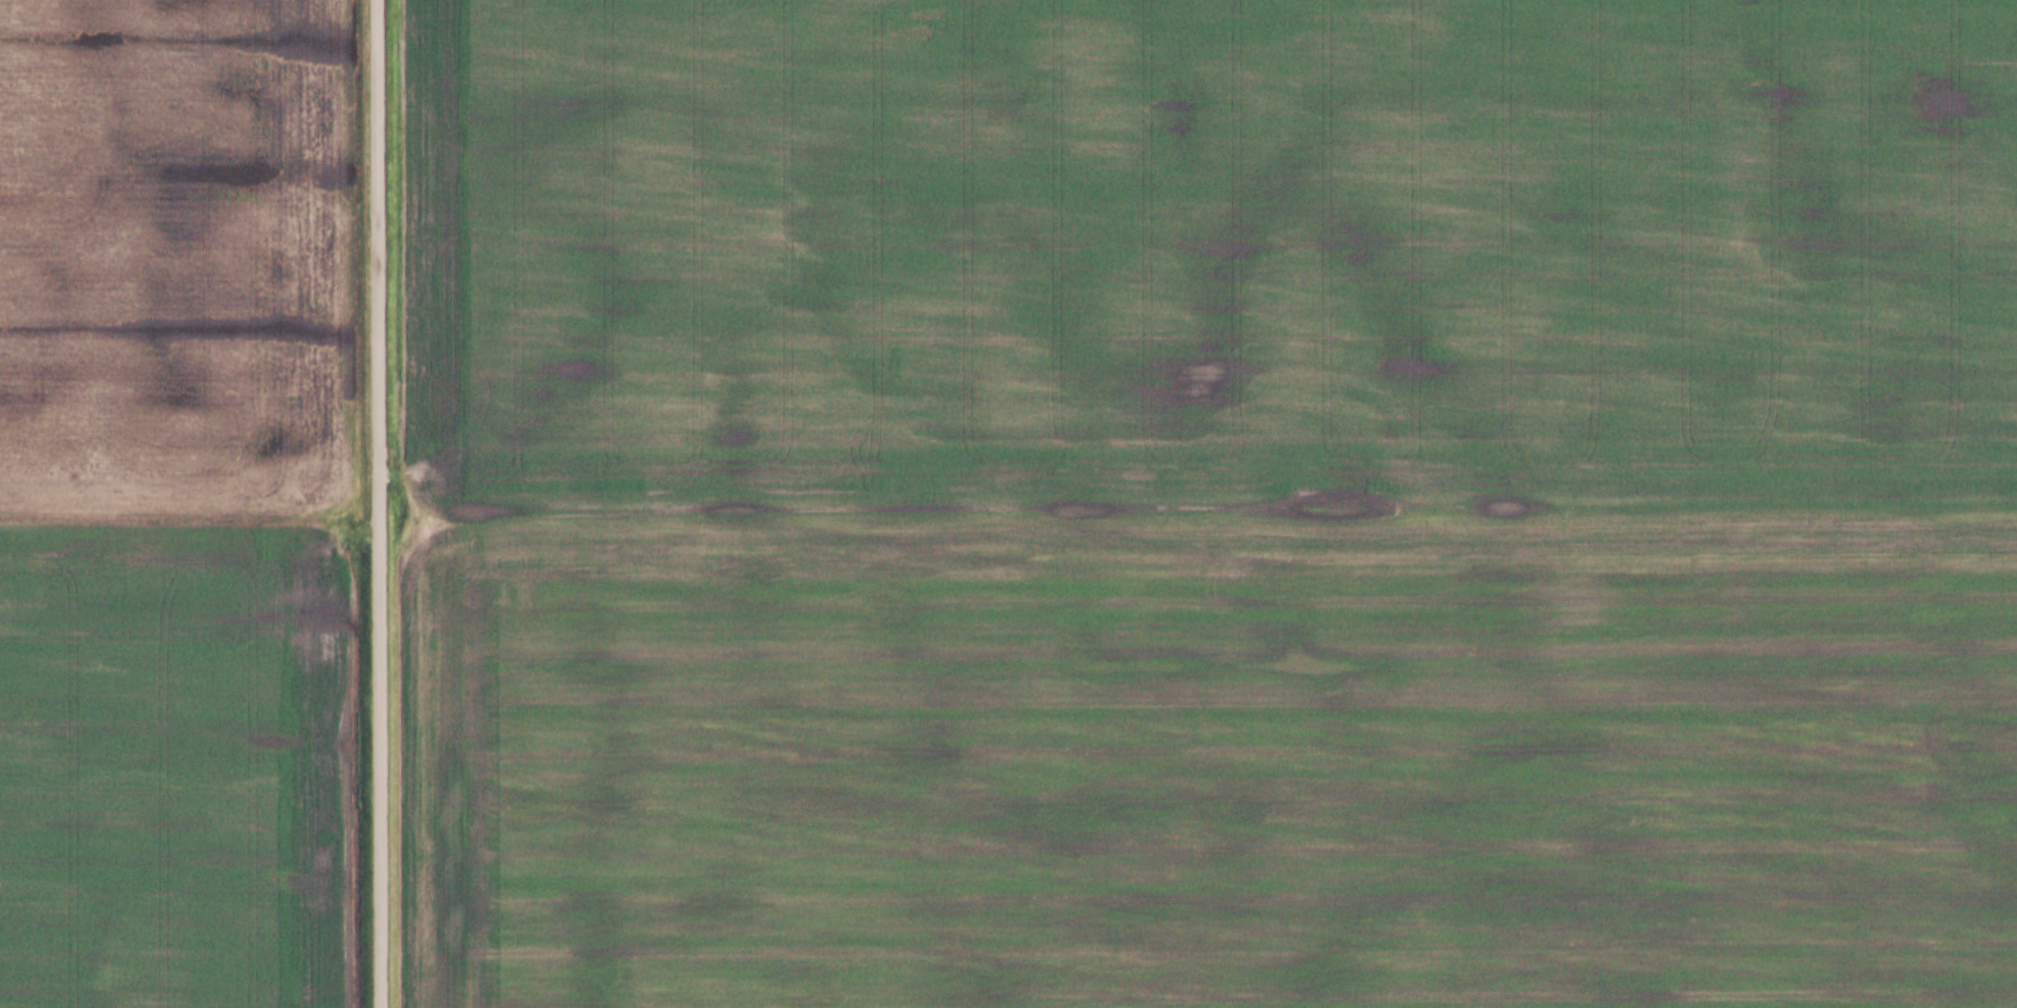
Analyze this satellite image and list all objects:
road: (382, 503)

